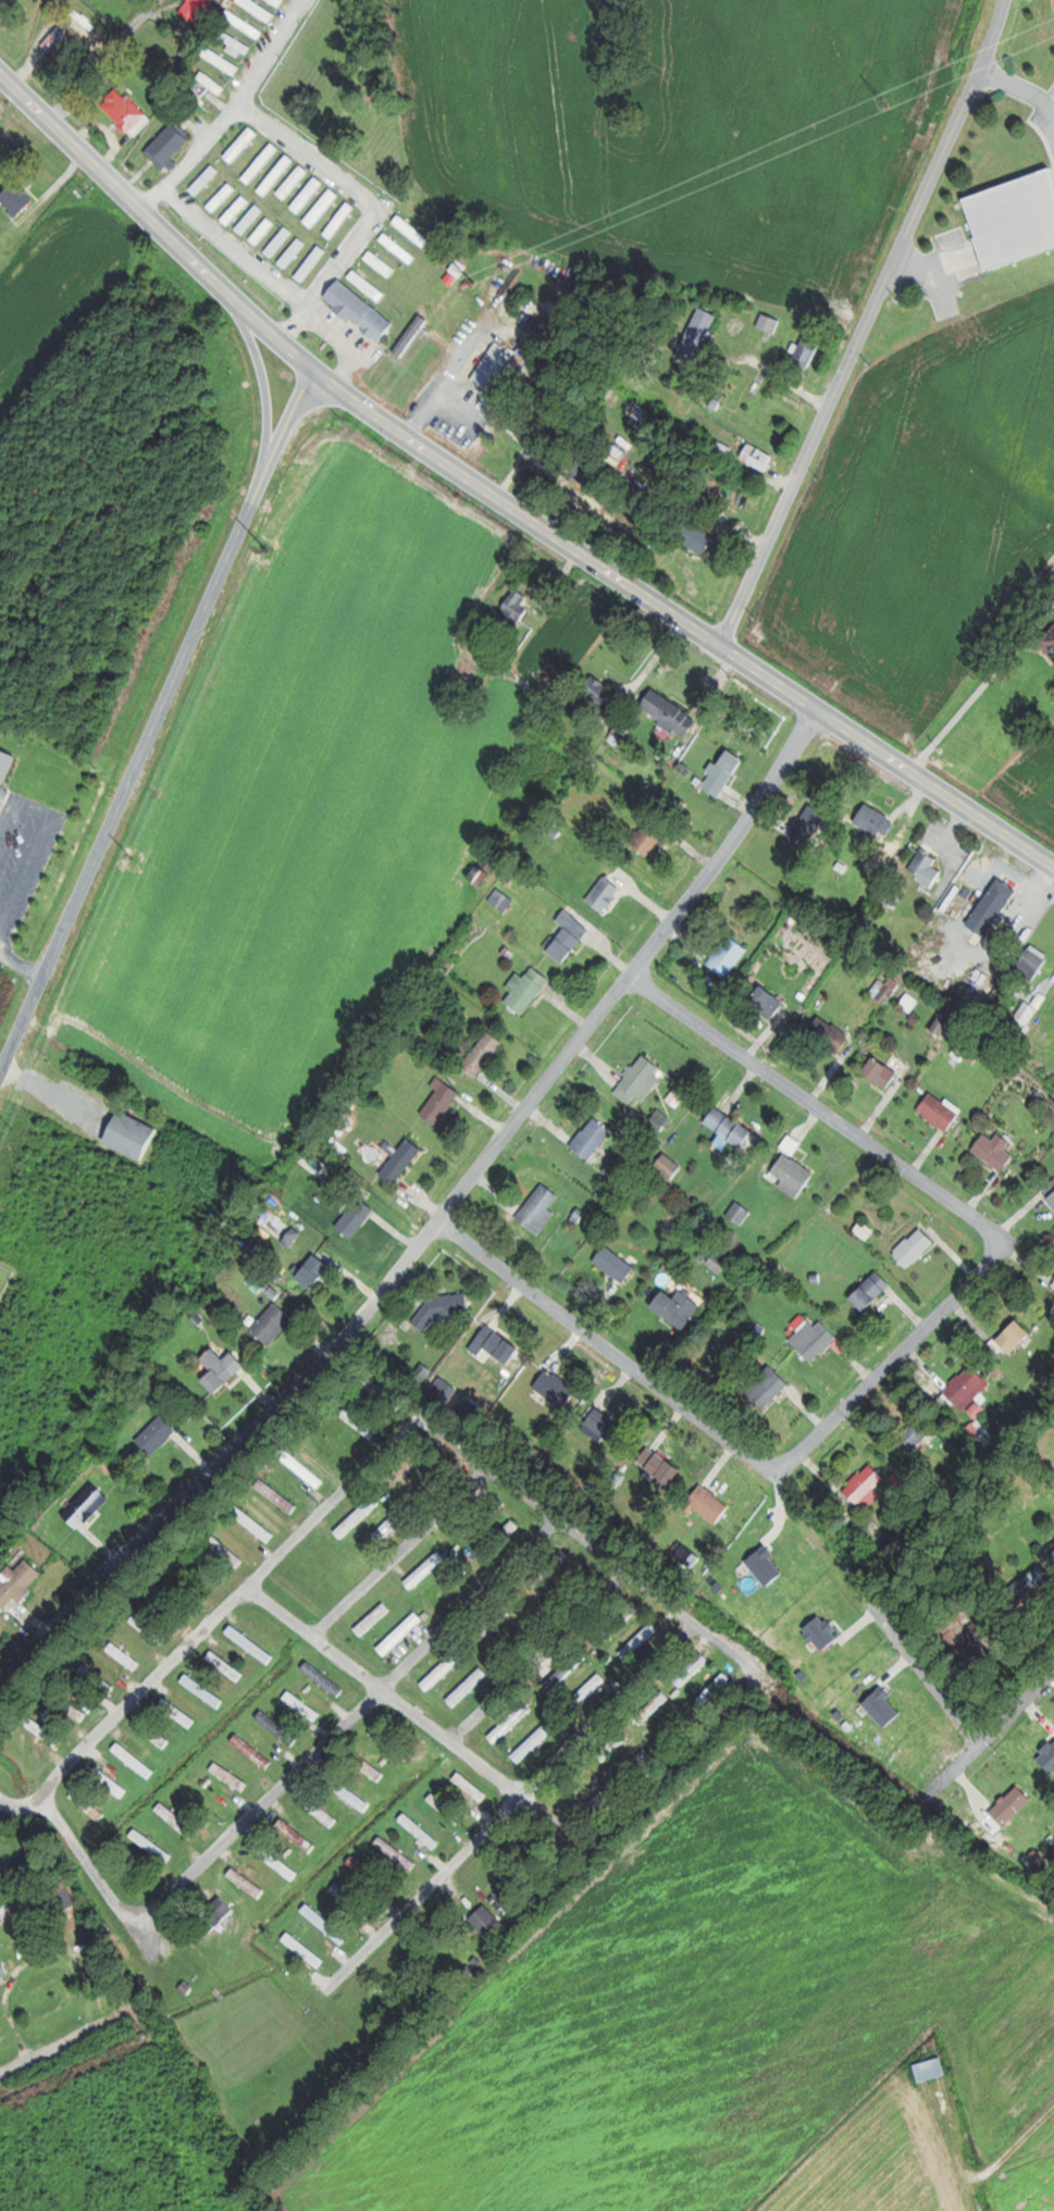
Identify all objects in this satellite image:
building: (5, 3)
building: (262, 10)
building: (201, 11)
building: (255, 29)
building: (61, 47)
building: (240, 47)
road: (102, 60)
building: (222, 60)
building: (212, 82)
power tower: (890, 102)
building: (124, 109)
road: (233, 111)
building: (243, 144)
building: (169, 147)
building: (261, 162)
building: (277, 174)
building: (206, 178)
building: (294, 181)
building: (308, 195)
building: (223, 196)
building: (16, 198)
road: (376, 206)
building: (322, 207)
building: (237, 209)
building: (249, 219)
building: (1014, 219)
building: (340, 220)
building: (264, 231)
building: (411, 232)
building: (281, 241)
building: (399, 248)
building: (294, 253)
building: (382, 262)
building: (312, 263)
building: (460, 268)
building: (408, 278)
power tower: (475, 283)
building: (369, 285)
building: (360, 310)
building: (770, 323)
road: (868, 326)
building: (698, 334)
building: (412, 335)
building: (807, 352)
building: (493, 367)
building: (758, 456)
building: (715, 465)
building: (587, 472)
road: (501, 500)
building: (695, 535)
power tower: (269, 551)
building: (514, 609)
building: (1050, 643)
road: (982, 687)
building: (597, 691)
building: (670, 712)
road: (160, 734)
building: (5, 769)
building: (724, 773)
building: (808, 825)
building: (876, 827)
building: (645, 841)
power tower: (134, 857)
building: (926, 868)
building: (486, 870)
building: (605, 895)
building: (993, 907)
building: (569, 937)
building: (729, 956)
building: (1032, 965)
building: (528, 989)
building: (768, 1002)
building: (1028, 1014)
building: (943, 1024)
building: (831, 1034)
building: (483, 1054)
building: (881, 1071)
building: (641, 1080)
building: (442, 1101)
building: (940, 1111)
building: (730, 1127)
power tower: (14, 1128)
building: (131, 1134)
building: (593, 1138)
building: (996, 1151)
building: (401, 1162)
building: (669, 1166)
building: (794, 1175)
road: (469, 1179)
building: (1051, 1189)
road: (952, 1204)
building: (540, 1208)
building: (357, 1217)
building: (915, 1246)
building: (616, 1263)
building: (314, 1270)
building: (1053, 1284)
building: (871, 1290)
building: (679, 1306)
building: (274, 1322)
building: (1015, 1336)
building: (815, 1339)
building: (495, 1344)
road: (608, 1350)
building: (222, 1368)
building: (424, 1372)
road: (1040, 1377)
building: (557, 1387)
building: (767, 1387)
building: (969, 1387)
building: (446, 1389)
building: (471, 1408)
building: (360, 1423)
building: (604, 1426)
building: (917, 1431)
building: (158, 1434)
building: (302, 1467)
building: (660, 1467)
building: (407, 1469)
building: (869, 1487)
building: (277, 1495)
building: (709, 1504)
building: (86, 1506)
building: (359, 1516)
building: (253, 1523)
building: (509, 1531)
building: (1052, 1545)
road: (582, 1548)
building: (227, 1551)
road: (402, 1556)
building: (550, 1567)
building: (426, 1569)
building: (18, 1583)
road: (226, 1607)
building: (374, 1618)
building: (149, 1628)
building: (401, 1634)
building: (641, 1640)
building: (125, 1655)
road: (538, 1662)
building: (226, 1665)
building: (693, 1669)
building: (439, 1673)
building: (565, 1673)
road: (928, 1677)
building: (96, 1678)
building: (469, 1687)
building: (592, 1687)
building: (204, 1690)
building: (717, 1690)
building: (303, 1705)
building: (655, 1706)
building: (72, 1707)
building: (178, 1712)
road: (426, 1723)
building: (511, 1723)
road: (350, 1727)
road: (1003, 1727)
building: (44, 1729)
building: (154, 1734)
building: (533, 1743)
building: (615, 1746)
building: (253, 1751)
road: (690, 1751)
building: (135, 1760)
building: (641, 1762)
building: (369, 1766)
building: (231, 1776)
building: (471, 1786)
building: (351, 1793)
road: (505, 1801)
building: (602, 1801)
building: (1013, 1804)
building: (89, 1805)
road: (24, 1808)
building: (321, 1810)
building: (177, 1819)
building: (421, 1830)
building: (297, 1835)
building: (152, 1844)
building: (397, 1852)
road: (94, 1859)
building: (64, 1895)
building: (214, 1915)
building: (487, 1921)
building: (326, 1923)
building: (305, 1949)
building: (4, 1971)
road: (79, 2039)

